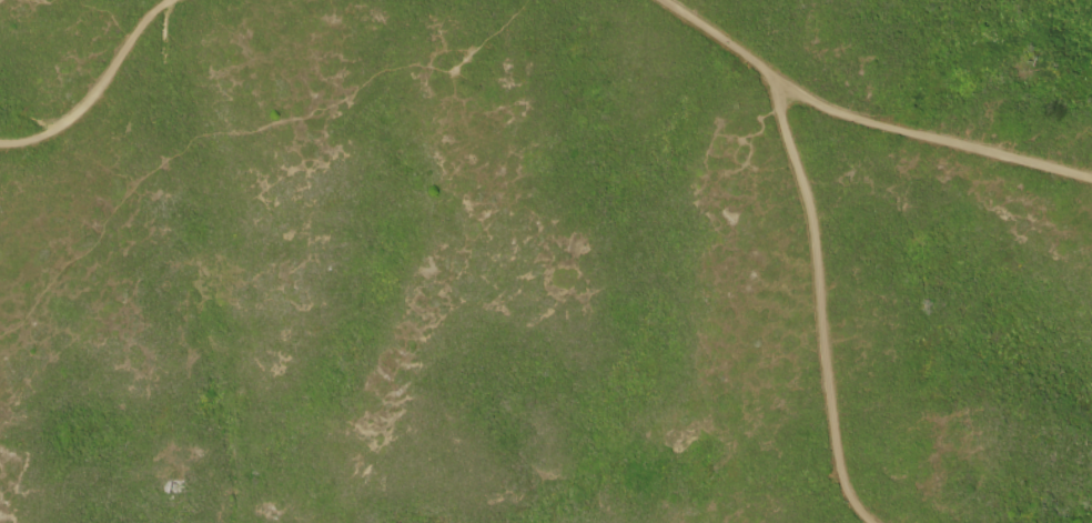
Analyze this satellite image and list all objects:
road: (719, 37)
road: (94, 88)
road: (927, 141)
road: (818, 301)

